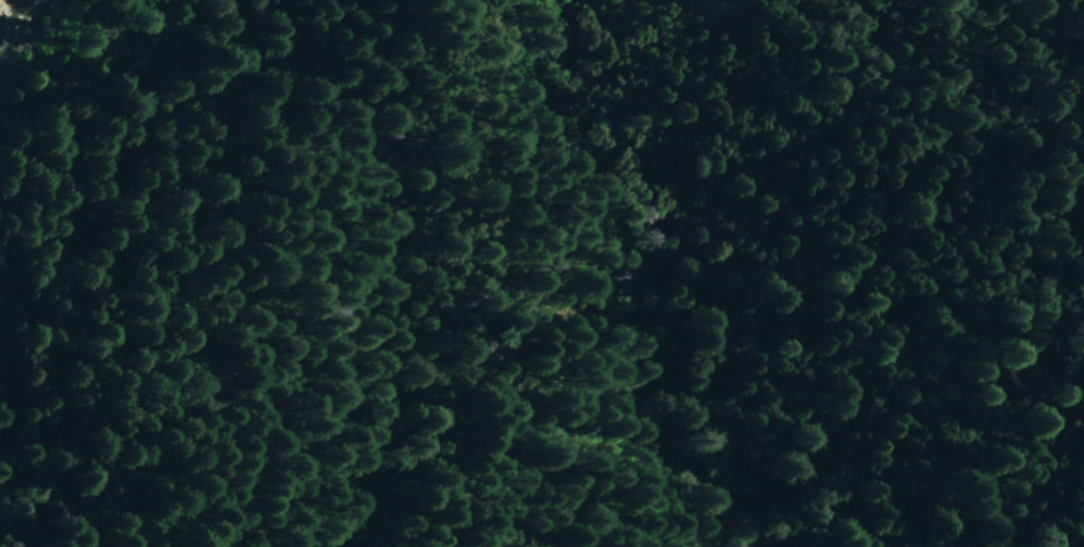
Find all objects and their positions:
river: (7, 7)
park: (686, 315)

